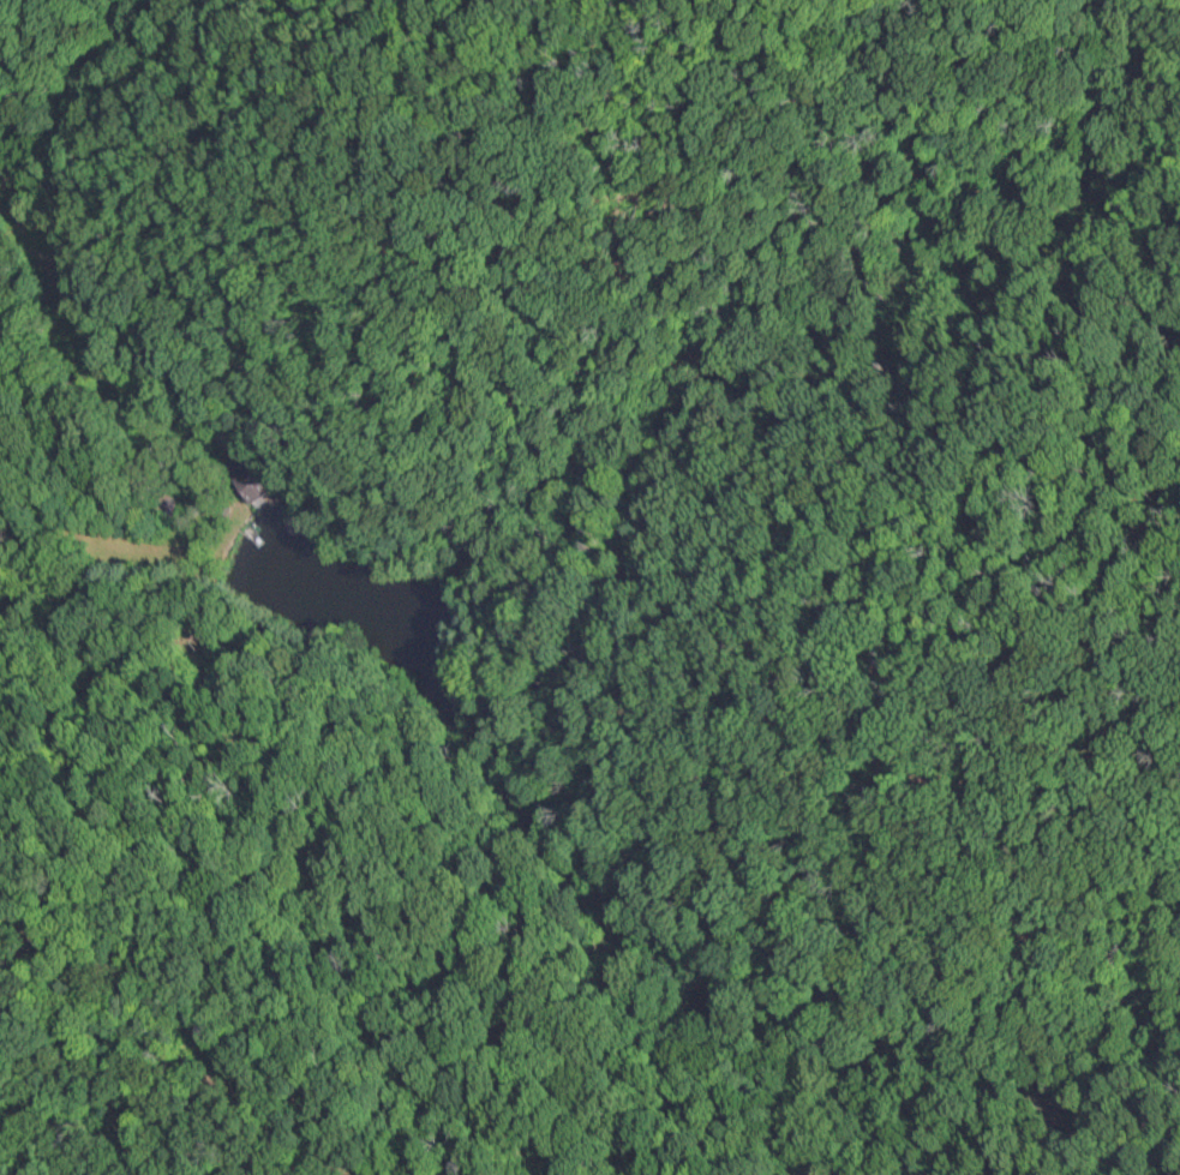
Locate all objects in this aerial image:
building: (252, 475)
building: (172, 503)

